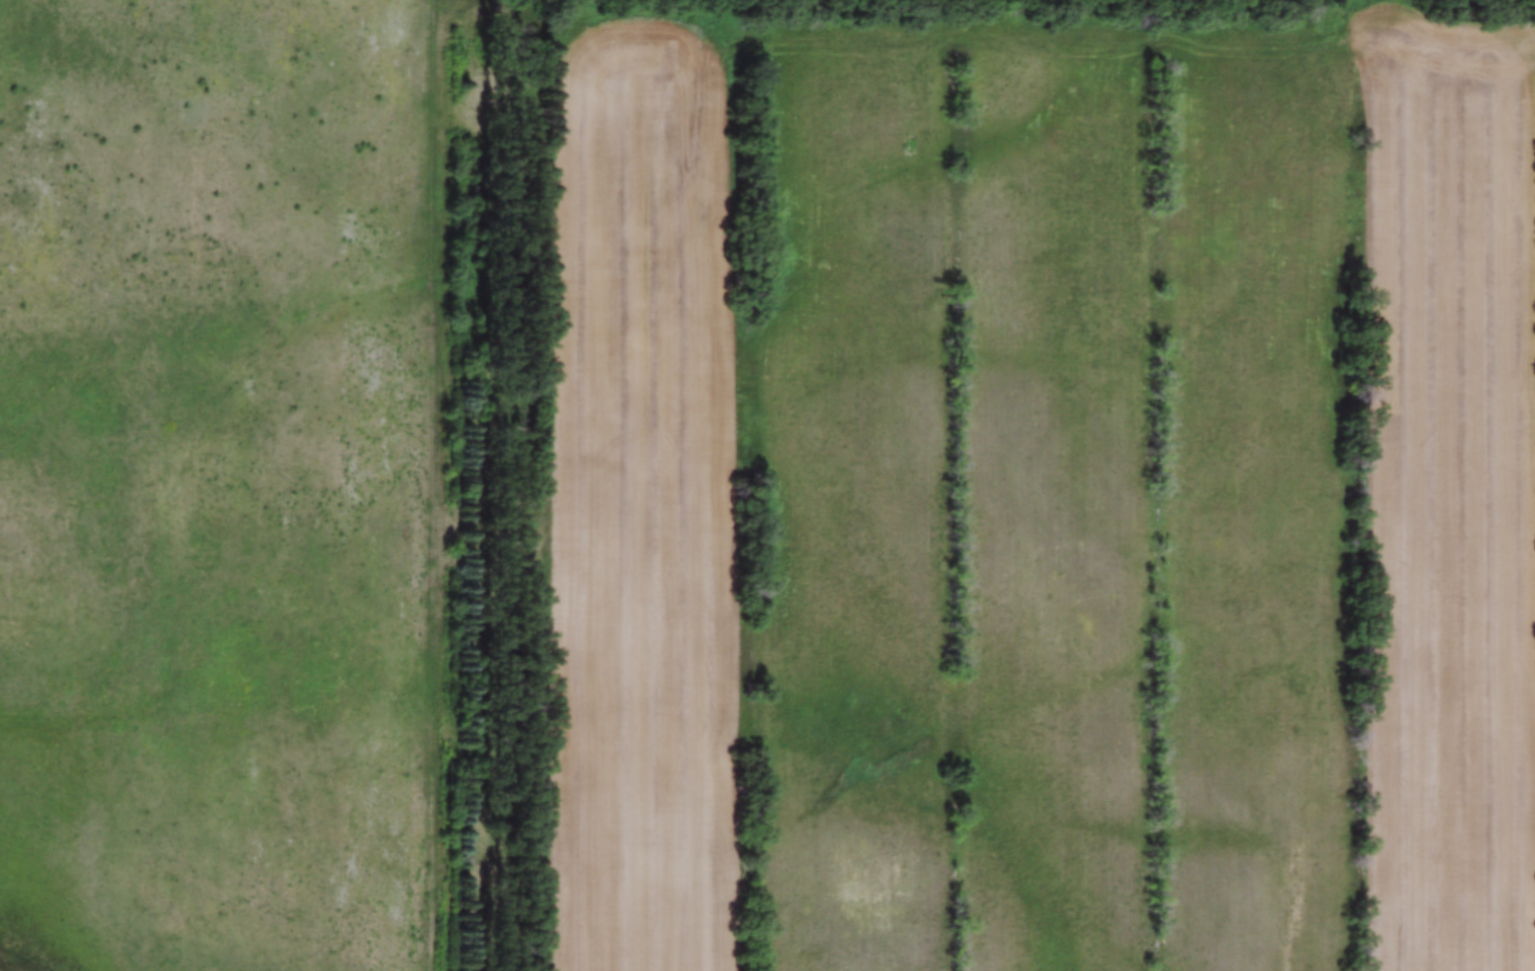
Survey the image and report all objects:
road: (434, 485)

